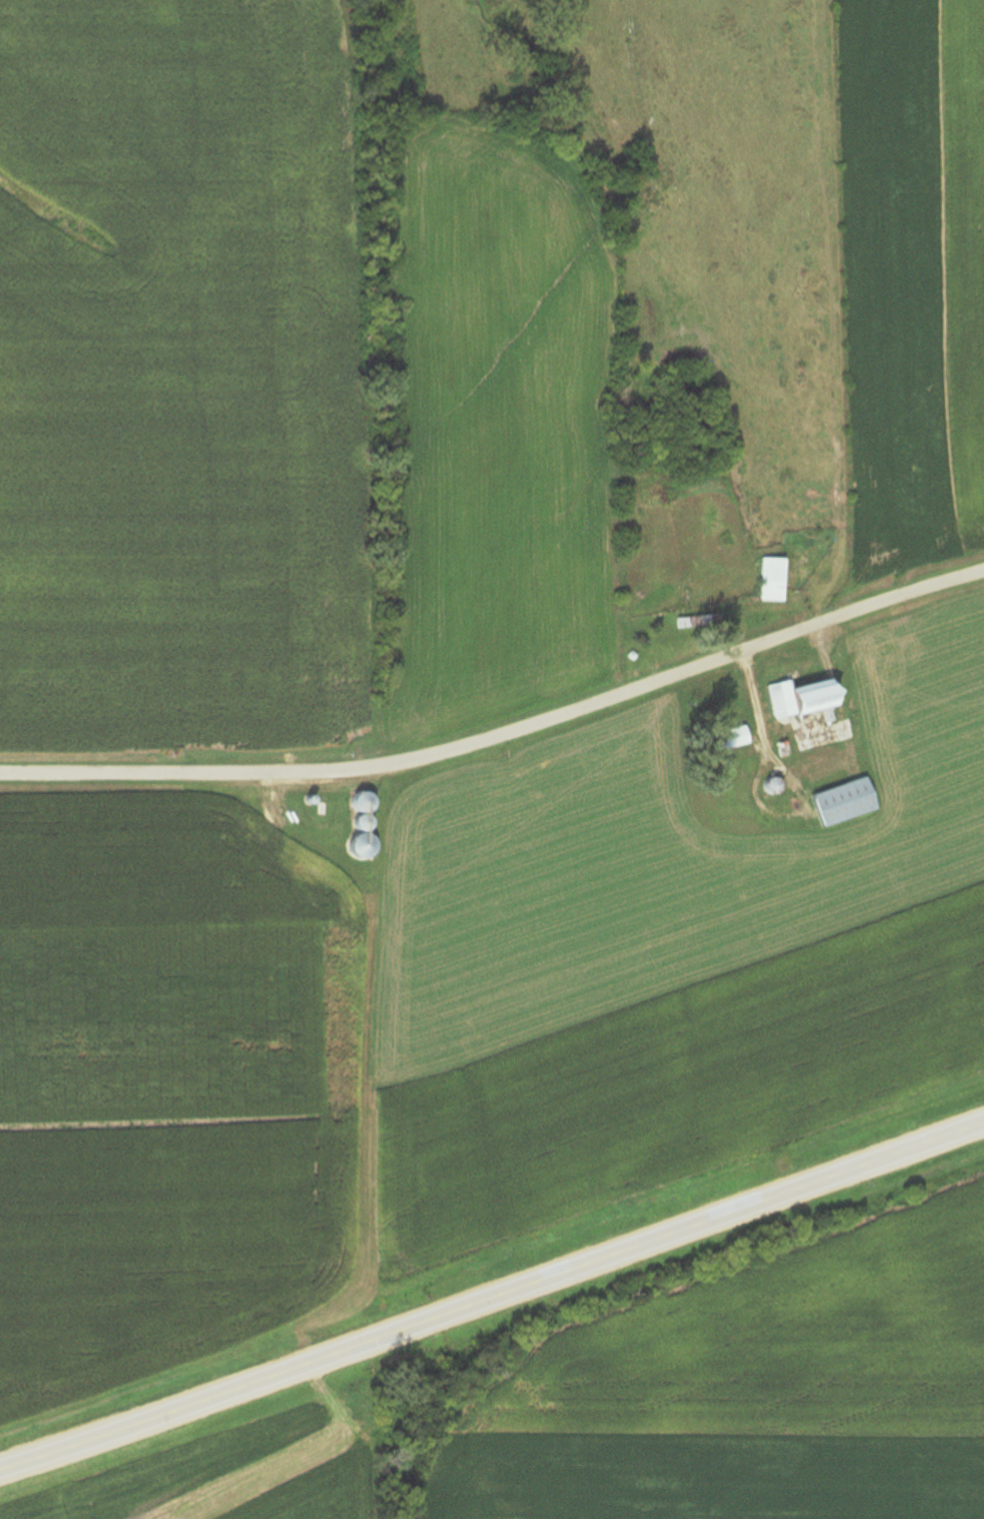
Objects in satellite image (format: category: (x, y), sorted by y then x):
building: (776, 580)
building: (826, 697)
building: (785, 700)
road: (502, 730)
building: (737, 738)
building: (852, 803)
road: (493, 1299)

